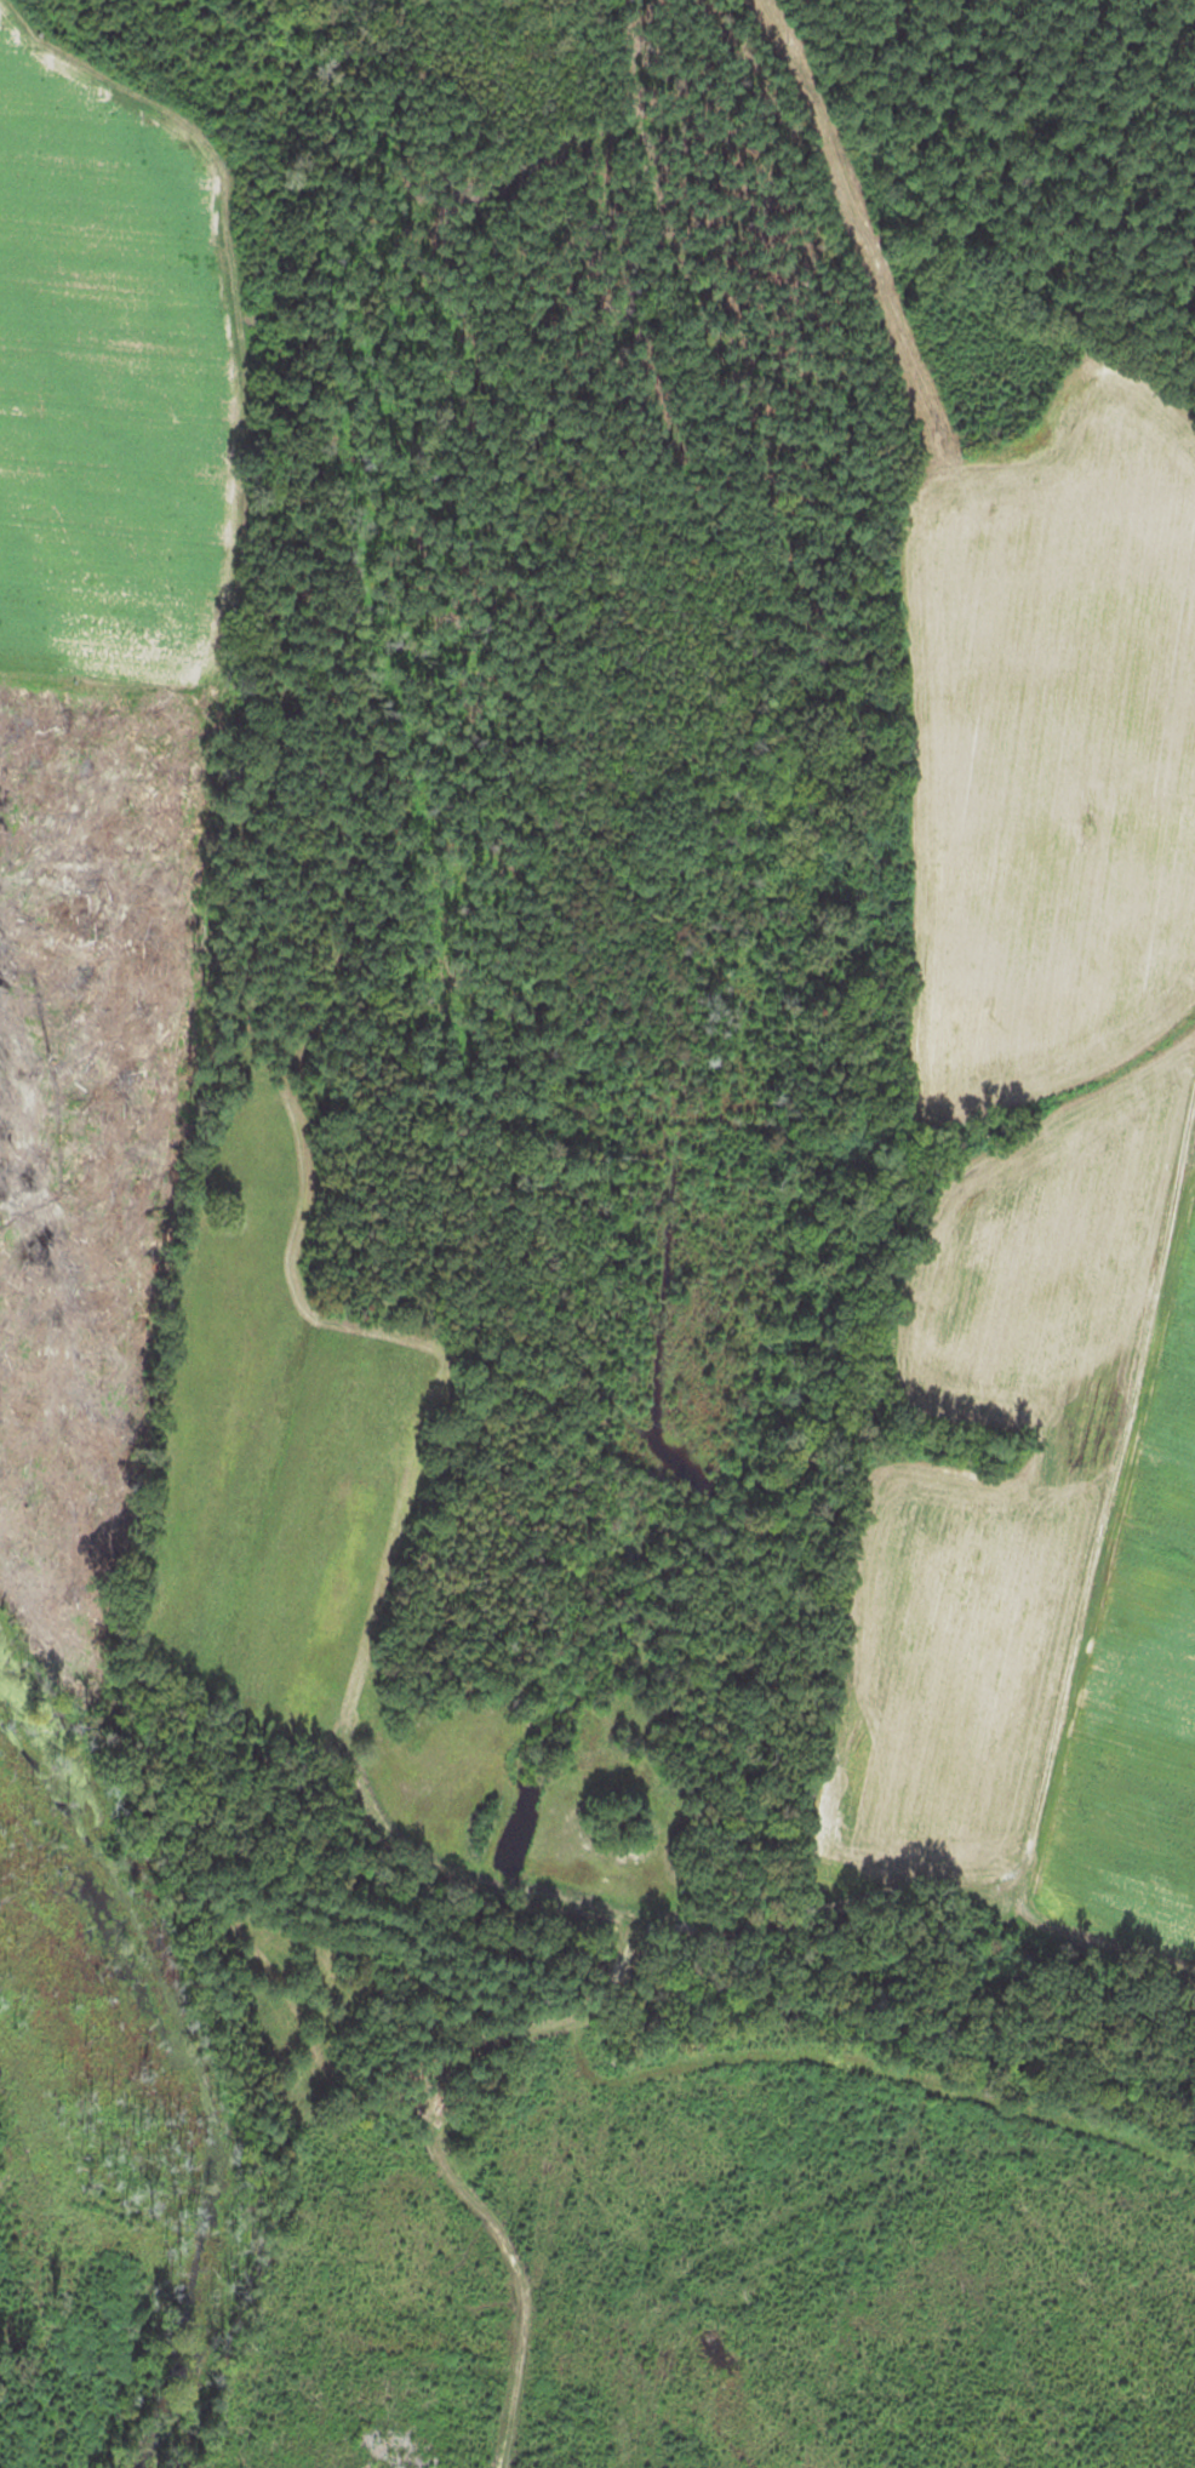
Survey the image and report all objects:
road: (1150, 1291)

